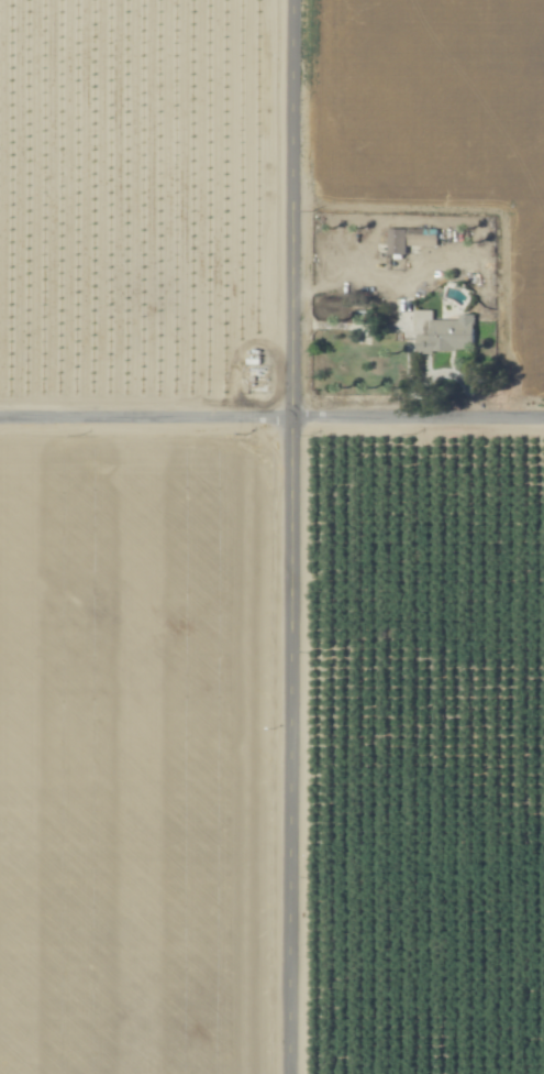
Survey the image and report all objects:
building: (408, 239)
building: (442, 332)
road: (271, 416)
road: (291, 536)
crop: (135, 755)
crop: (428, 755)

